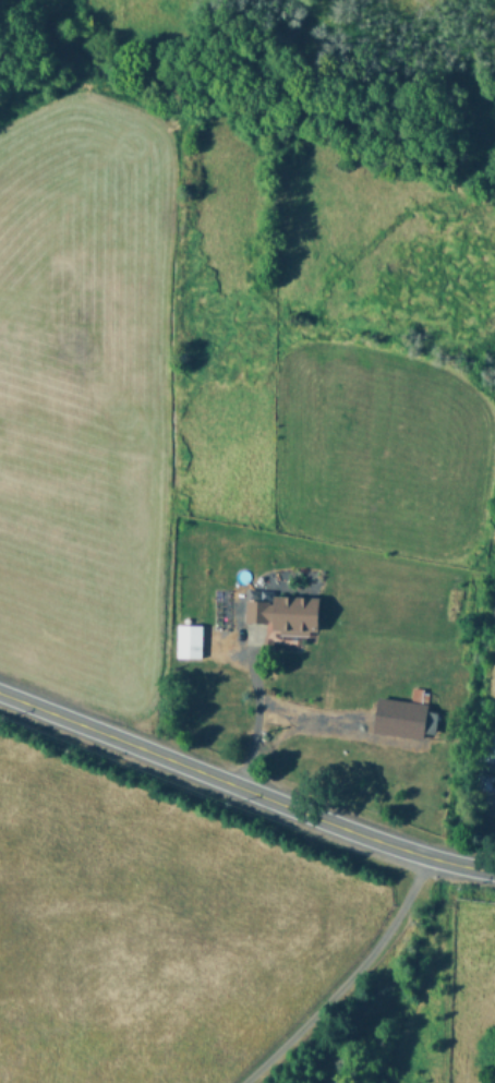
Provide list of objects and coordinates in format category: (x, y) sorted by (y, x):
crop: (242, 531)
building: (280, 613)
building: (186, 641)
building: (402, 714)
road: (298, 715)
road: (253, 725)
building: (487, 750)
road: (244, 789)
building: (488, 801)
road: (351, 979)

